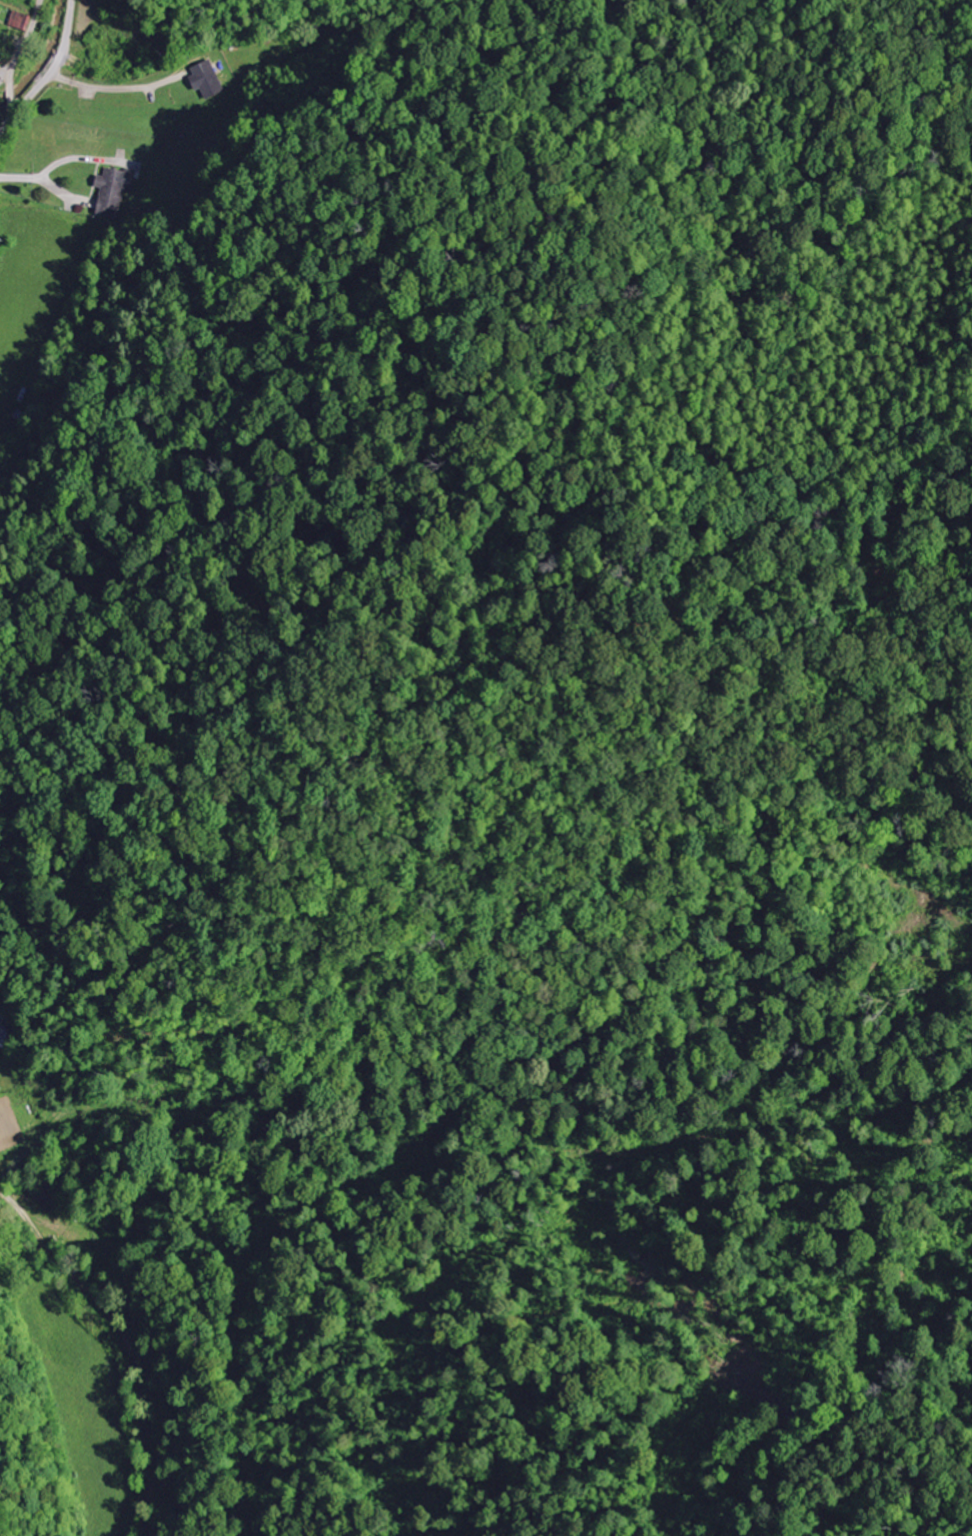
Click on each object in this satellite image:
building: (22, 20)
road: (17, 58)
road: (45, 70)
building: (208, 79)
building: (116, 190)
building: (4, 1038)
road: (22, 1211)

